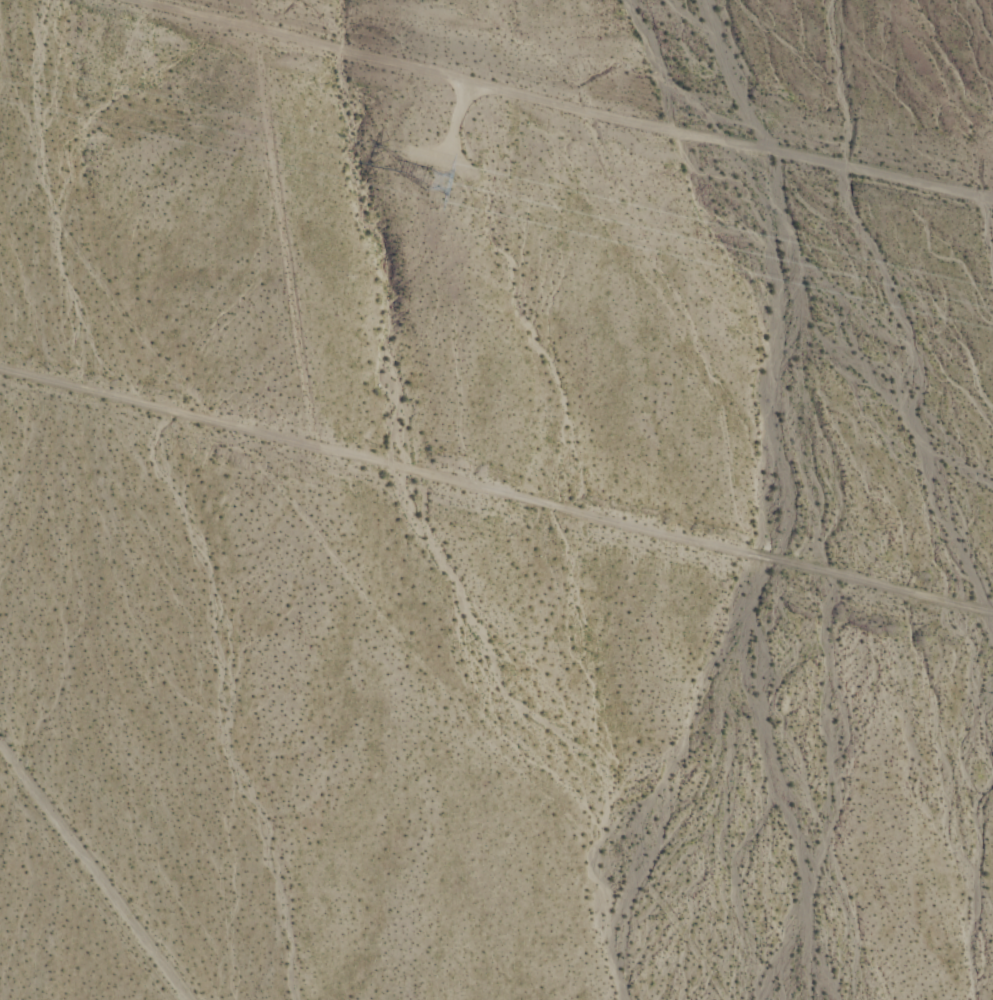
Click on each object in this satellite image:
road: (580, 96)
power tower: (450, 169)
road: (496, 496)
road: (89, 886)

